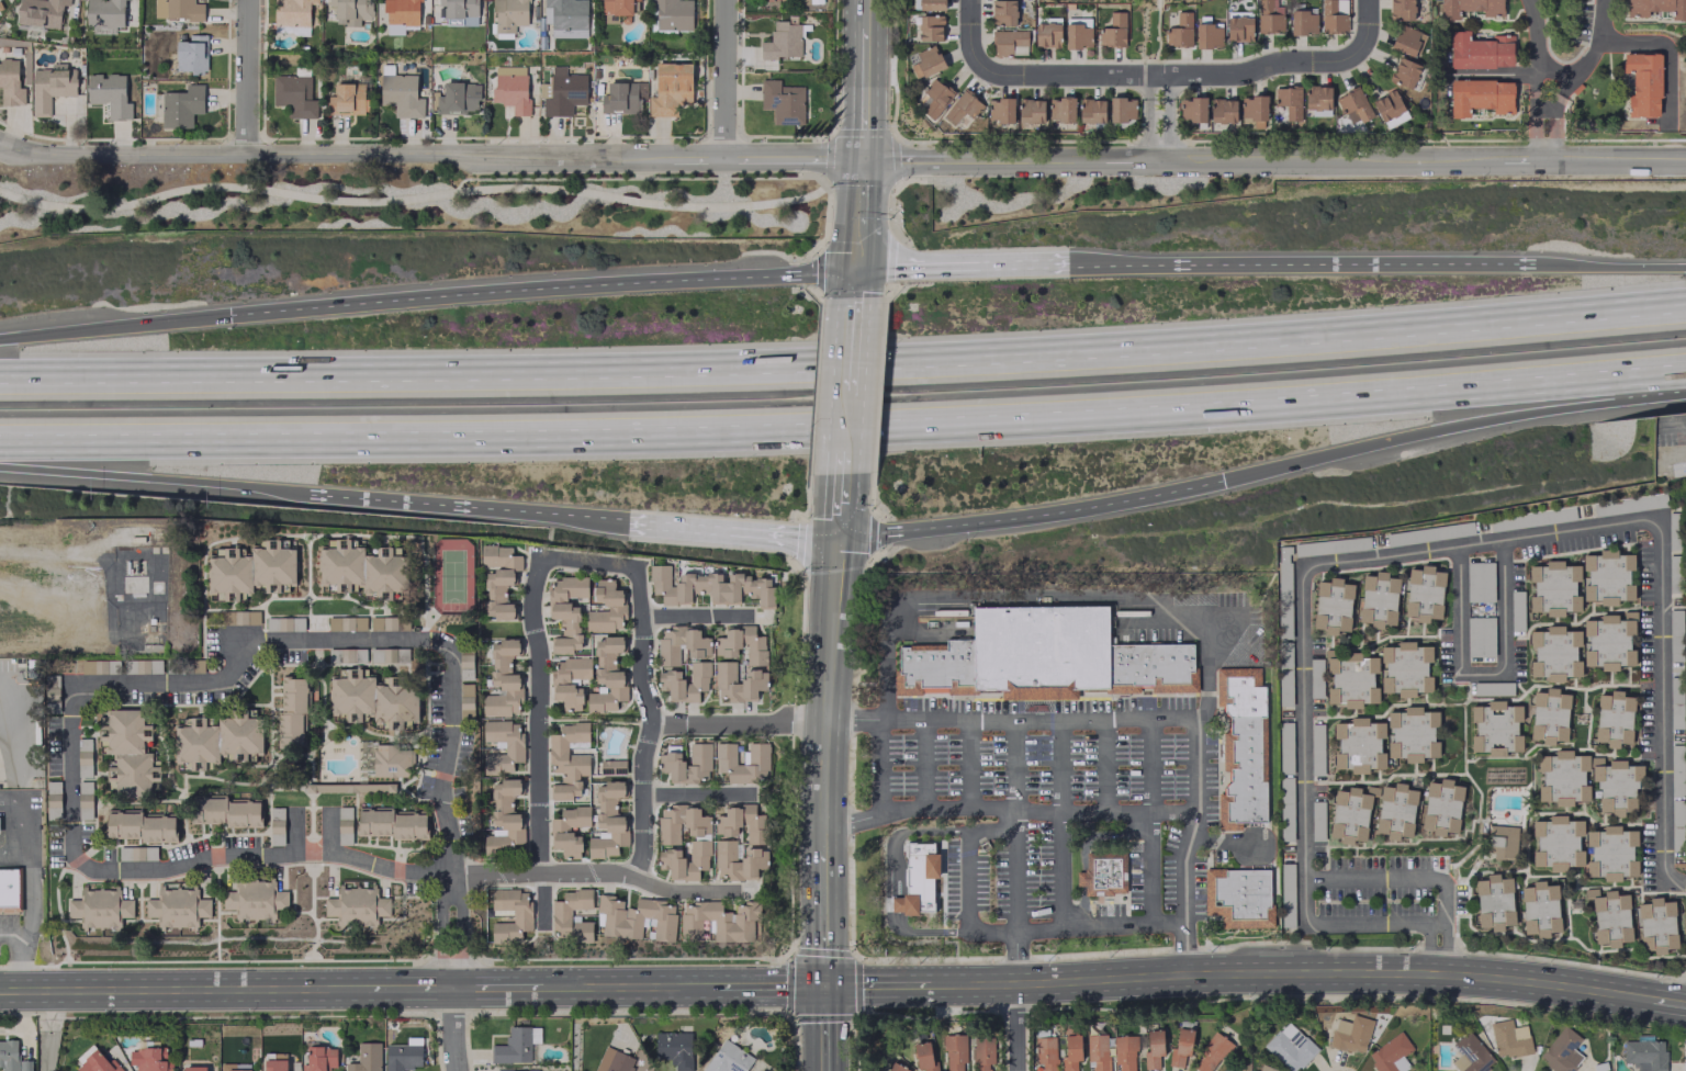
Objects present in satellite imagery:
building: (928, 4)
building: (616, 7)
road: (863, 7)
building: (1469, 7)
building: (1656, 8)
building: (177, 9)
building: (1401, 9)
building: (349, 11)
building: (460, 11)
building: (40, 12)
building: (292, 12)
building: (1003, 12)
building: (104, 13)
building: (564, 13)
building: (509, 14)
building: (673, 14)
building: (401, 15)
building: (1268, 15)
building: (1333, 15)
building: (1302, 22)
building: (1238, 25)
building: (930, 27)
road: (1365, 29)
building: (1113, 31)
building: (1179, 31)
building: (1078, 33)
building: (1046, 34)
road: (968, 35)
building: (1207, 35)
building: (1406, 40)
building: (783, 41)
building: (1009, 42)
building: (1480, 50)
building: (191, 53)
building: (926, 61)
building: (1404, 72)
road: (1497, 72)
road: (1564, 74)
road: (246, 76)
road: (1168, 76)
road: (721, 78)
road: (1538, 79)
building: (10, 83)
building: (1643, 83)
road: (1565, 84)
road: (862, 86)
building: (49, 87)
road: (1168, 87)
building: (510, 88)
building: (670, 88)
road: (1149, 88)
building: (561, 91)
building: (109, 93)
building: (293, 94)
building: (401, 94)
building: (1480, 95)
building: (622, 97)
building: (458, 98)
building: (934, 98)
building: (346, 99)
building: (1317, 100)
building: (782, 101)
building: (1289, 101)
building: (181, 105)
building: (1353, 105)
building: (962, 106)
building: (1252, 108)
building: (1389, 108)
building: (1060, 109)
building: (1121, 109)
building: (1191, 109)
building: (1000, 110)
building: (1031, 110)
building: (1091, 110)
building: (1223, 110)
road: (1543, 110)
road: (1158, 114)
road: (1533, 125)
road: (1554, 126)
road: (1167, 132)
road: (859, 133)
road: (1149, 133)
road: (842, 158)
traffic signals: (861, 158)
road: (859, 192)
road: (414, 198)
road: (855, 248)
road: (971, 264)
road: (1313, 264)
road: (1611, 266)
road: (853, 283)
road: (541, 288)
road: (114, 327)
road: (848, 347)
road: (844, 367)
road: (1670, 416)
road: (844, 424)
road: (1453, 425)
road: (843, 426)
road: (840, 472)
road: (144, 478)
road: (457, 507)
road: (838, 512)
road: (1032, 515)
building: (1530, 518)
road: (730, 530)
traffic signals: (836, 538)
building: (1405, 539)
building: (1672, 541)
road: (1476, 543)
building: (1330, 545)
parking lot: (541, 551)
road: (586, 561)
building: (363, 567)
building: (252, 570)
building: (1283, 572)
building: (1673, 573)
park: (451, 575)
building: (1607, 577)
building: (499, 579)
building: (1479, 582)
building: (708, 587)
building: (1553, 587)
building: (1424, 593)
road: (1041, 596)
building: (1378, 599)
building: (1331, 605)
building: (607, 609)
building: (565, 612)
road: (695, 616)
building: (240, 617)
building: (346, 622)
building: (382, 622)
building: (1675, 635)
building: (1480, 636)
road: (251, 641)
building: (1608, 641)
building: (681, 644)
building: (727, 646)
building: (1554, 653)
building: (347, 654)
building: (382, 654)
building: (1045, 657)
building: (465, 663)
building: (99, 665)
building: (142, 665)
parking lot: (544, 665)
building: (1405, 668)
parking lot: (645, 674)
building: (608, 675)
road: (1487, 675)
building: (1315, 677)
building: (1284, 678)
building: (1350, 678)
building: (504, 679)
building: (739, 683)
building: (687, 684)
building: (562, 685)
road: (825, 691)
building: (52, 692)
building: (374, 698)
road: (1664, 698)
building: (465, 701)
building: (1675, 702)
parking lot: (543, 709)
building: (293, 711)
road: (1, 712)
building: (1549, 715)
building: (1612, 718)
road: (853, 719)
road: (1038, 719)
road: (1305, 719)
road: (650, 721)
road: (737, 722)
building: (1495, 728)
parking lot: (543, 729)
parking lot: (721, 732)
building: (1412, 733)
building: (220, 739)
road: (537, 741)
building: (1358, 745)
building: (1285, 746)
building: (514, 747)
building: (1241, 748)
building: (1316, 748)
building: (130, 753)
parking lot: (634, 754)
building: (83, 757)
road: (443, 759)
building: (391, 762)
building: (569, 762)
building: (757, 762)
road: (1013, 763)
road: (921, 764)
road: (968, 764)
building: (686, 765)
building: (612, 766)
road: (1058, 766)
road: (1104, 766)
road: (1150, 766)
building: (1676, 770)
parking lot: (1079, 773)
building: (1562, 777)
road: (71, 782)
building: (1616, 785)
road: (696, 794)
building: (53, 800)
building: (83, 800)
building: (1441, 807)
parking lot: (544, 809)
building: (227, 811)
road: (1037, 811)
building: (1395, 811)
road: (23, 813)
building: (1350, 813)
building: (505, 816)
road: (1013, 819)
building: (609, 820)
road: (851, 821)
building: (1316, 822)
building: (393, 823)
building: (679, 823)
building: (1676, 824)
building: (276, 825)
building: (344, 825)
building: (729, 825)
building: (142, 826)
building: (561, 832)
road: (901, 833)
parking lot: (648, 834)
building: (1502, 841)
road: (1219, 842)
building: (1556, 843)
road: (1082, 850)
building: (136, 853)
building: (1610, 853)
road: (1, 854)
road: (14, 854)
road: (270, 855)
building: (672, 859)
building: (754, 859)
road: (1181, 867)
road: (1150, 869)
road: (593, 871)
road: (1059, 871)
building: (1103, 872)
parking lot: (1001, 876)
road: (1373, 877)
building: (1079, 878)
building: (917, 879)
parking lot: (502, 880)
parking lot: (581, 880)
building: (10, 890)
road: (26, 897)
building: (1239, 898)
building: (255, 899)
road: (1440, 901)
building: (1494, 901)
road: (896, 904)
building: (356, 905)
building: (100, 907)
building: (177, 907)
parking lot: (1106, 909)
building: (1539, 909)
building: (522, 915)
building: (561, 915)
road: (822, 915)
road: (965, 915)
building: (1610, 917)
building: (638, 918)
building: (718, 921)
parking lot: (9, 924)
road: (1349, 924)
building: (1655, 925)
road: (449, 928)
road: (924, 932)
road: (9, 935)
road: (1440, 948)
road: (1182, 949)
road: (1137, 951)
road: (1014, 957)
road: (395, 960)
road: (19, 961)
road: (1289, 972)
road: (879, 983)
road: (767, 984)
traffic signals: (822, 984)
road: (630, 985)
road: (498, 987)
road: (180, 988)
road: (405, 988)
road: (1664, 1000)
road: (853, 1016)
road: (823, 1027)
road: (1016, 1027)
road: (46, 1029)
road: (452, 1029)
building: (1350, 1034)
building: (1509, 1038)
building: (516, 1045)
building: (1180, 1047)
building: (1289, 1047)
building: (1070, 1048)
building: (1153, 1048)
building: (674, 1049)
building: (1561, 1051)
building: (955, 1052)
building: (982, 1052)
building: (1045, 1052)
building: (1097, 1052)
building: (1124, 1052)
building: (1210, 1052)
building: (1391, 1053)
building: (1470, 1055)
building: (1644, 1055)
building: (923, 1056)
building: (11, 1057)
building: (402, 1057)
building: (319, 1058)
building: (366, 1058)
building: (728, 1058)
building: (148, 1059)
building: (612, 1060)
building: (93, 1061)
building: (274, 1062)
building: (235, 1067)
building: (193, 1068)
building: (896, 1068)
building: (1267, 1068)
building: (524, 1070)

